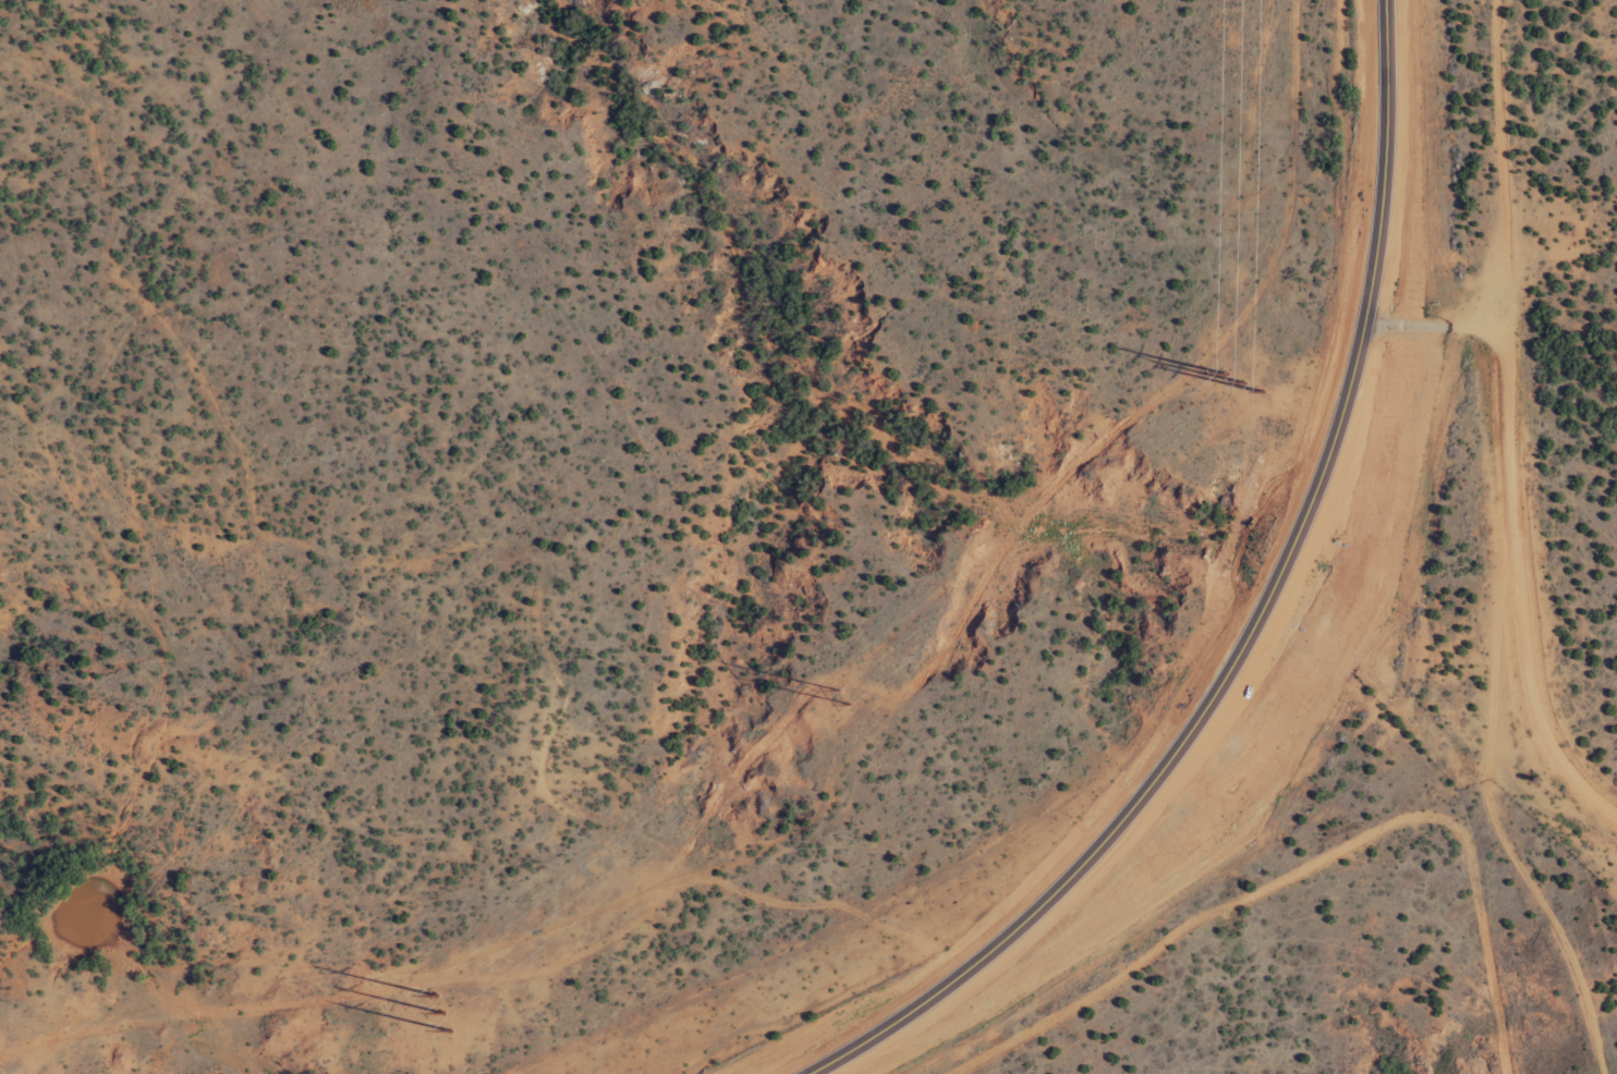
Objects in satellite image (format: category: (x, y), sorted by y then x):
power tower: (1241, 383)
road: (1313, 669)
power tower: (843, 697)
road: (1576, 755)
road: (1289, 899)
power tower: (441, 1011)

